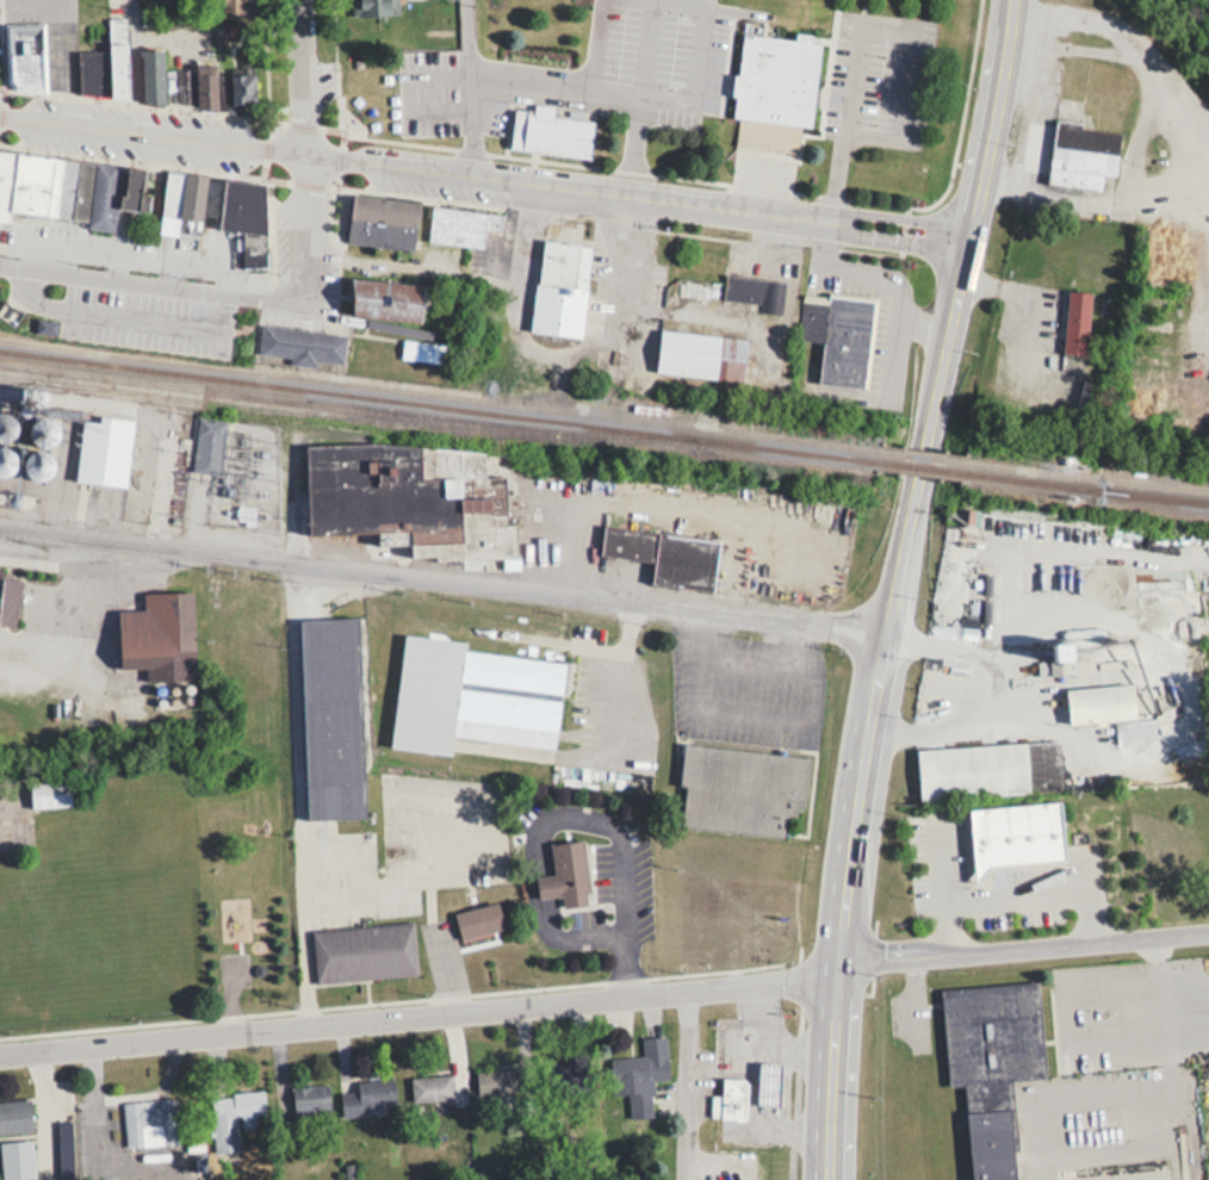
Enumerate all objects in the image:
building: (234, 7)
building: (373, 7)
road: (867, 23)
park: (541, 29)
road: (466, 37)
road: (599, 45)
road: (646, 49)
parking lot: (683, 54)
road: (66, 61)
building: (106, 64)
road: (134, 66)
road: (695, 68)
building: (24, 69)
road: (300, 76)
road: (508, 80)
building: (175, 82)
building: (242, 89)
road: (438, 91)
building: (792, 92)
parking lot: (457, 97)
building: (548, 130)
road: (633, 145)
building: (1080, 155)
road: (1202, 156)
road: (483, 174)
building: (58, 185)
building: (132, 187)
building: (180, 199)
building: (243, 204)
road: (306, 223)
building: (397, 224)
building: (472, 229)
road: (968, 229)
road: (155, 286)
building: (560, 287)
building: (754, 292)
building: (386, 298)
road: (1031, 305)
building: (1077, 321)
building: (838, 336)
building: (300, 344)
building: (420, 350)
building: (701, 355)
road: (546, 361)
railway: (274, 398)
railway: (439, 404)
railway: (352, 420)
building: (207, 445)
building: (104, 451)
railway: (920, 466)
power substation: (232, 477)
railway: (1085, 487)
railway: (1157, 496)
building: (411, 497)
building: (665, 554)
road: (444, 575)
building: (8, 600)
building: (157, 635)
road: (967, 650)
building: (1061, 659)
building: (472, 696)
building: (1099, 702)
building: (331, 716)
road: (954, 727)
building: (987, 769)
building: (749, 790)
building: (49, 794)
road: (861, 816)
building: (1028, 837)
building: (577, 876)
road: (947, 884)
road: (1047, 895)
park: (248, 900)
building: (477, 920)
building: (361, 951)
road: (604, 993)
building: (650, 1062)
building: (992, 1064)
building: (578, 1073)
building: (495, 1082)
road: (683, 1082)
building: (769, 1083)
building: (430, 1088)
building: (366, 1097)
building: (730, 1099)
building: (310, 1101)
building: (236, 1104)
road: (35, 1113)
building: (14, 1116)
building: (149, 1123)
building: (17, 1160)

